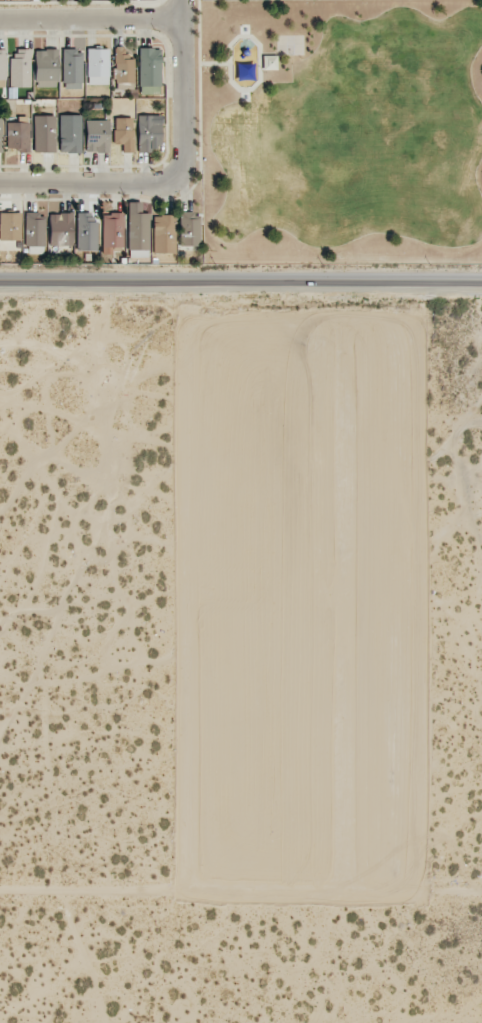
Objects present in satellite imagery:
road: (92, 15)
building: (2, 65)
building: (97, 66)
building: (123, 66)
building: (20, 68)
building: (46, 68)
building: (72, 69)
building: (149, 70)
road: (182, 91)
park: (339, 130)
building: (44, 133)
building: (70, 133)
building: (123, 133)
building: (149, 133)
building: (18, 134)
building: (1, 136)
building: (97, 136)
road: (86, 183)
building: (10, 226)
building: (189, 228)
building: (34, 229)
building: (60, 229)
building: (86, 231)
building: (137, 231)
building: (112, 233)
building: (164, 234)
road: (241, 284)

